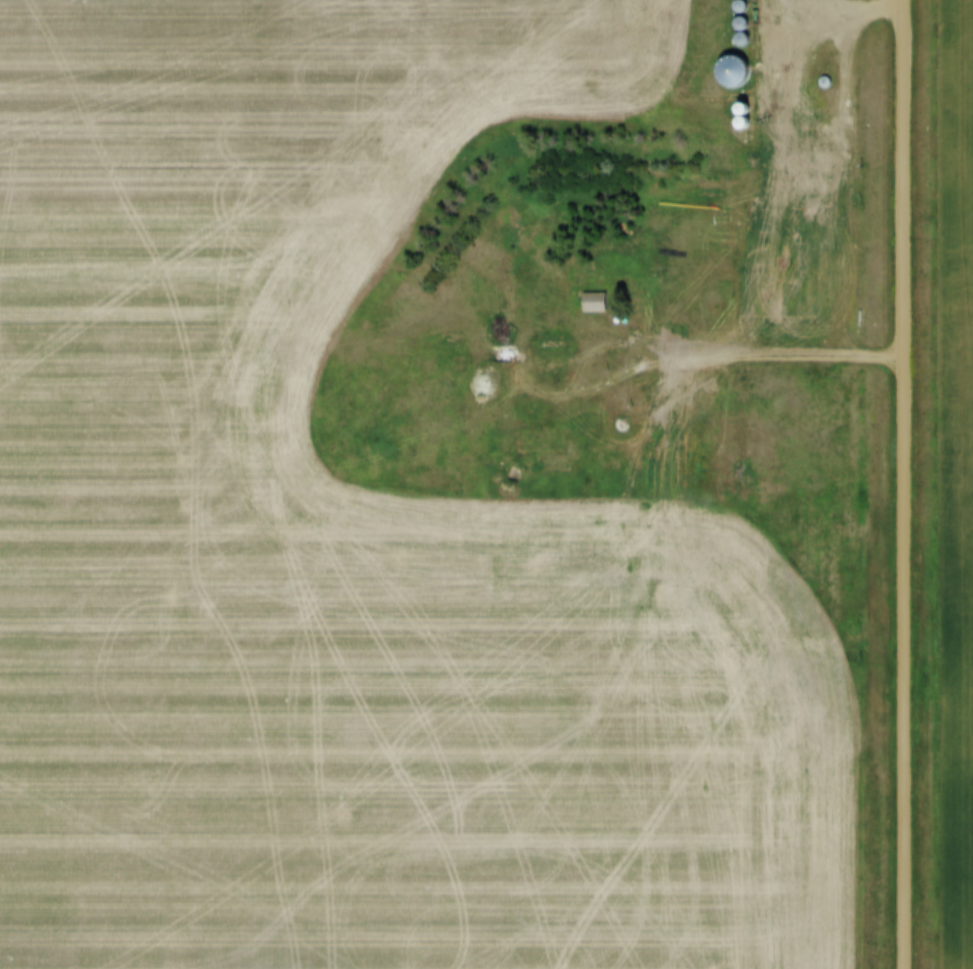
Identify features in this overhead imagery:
building: (588, 304)
road: (793, 357)
road: (907, 484)

